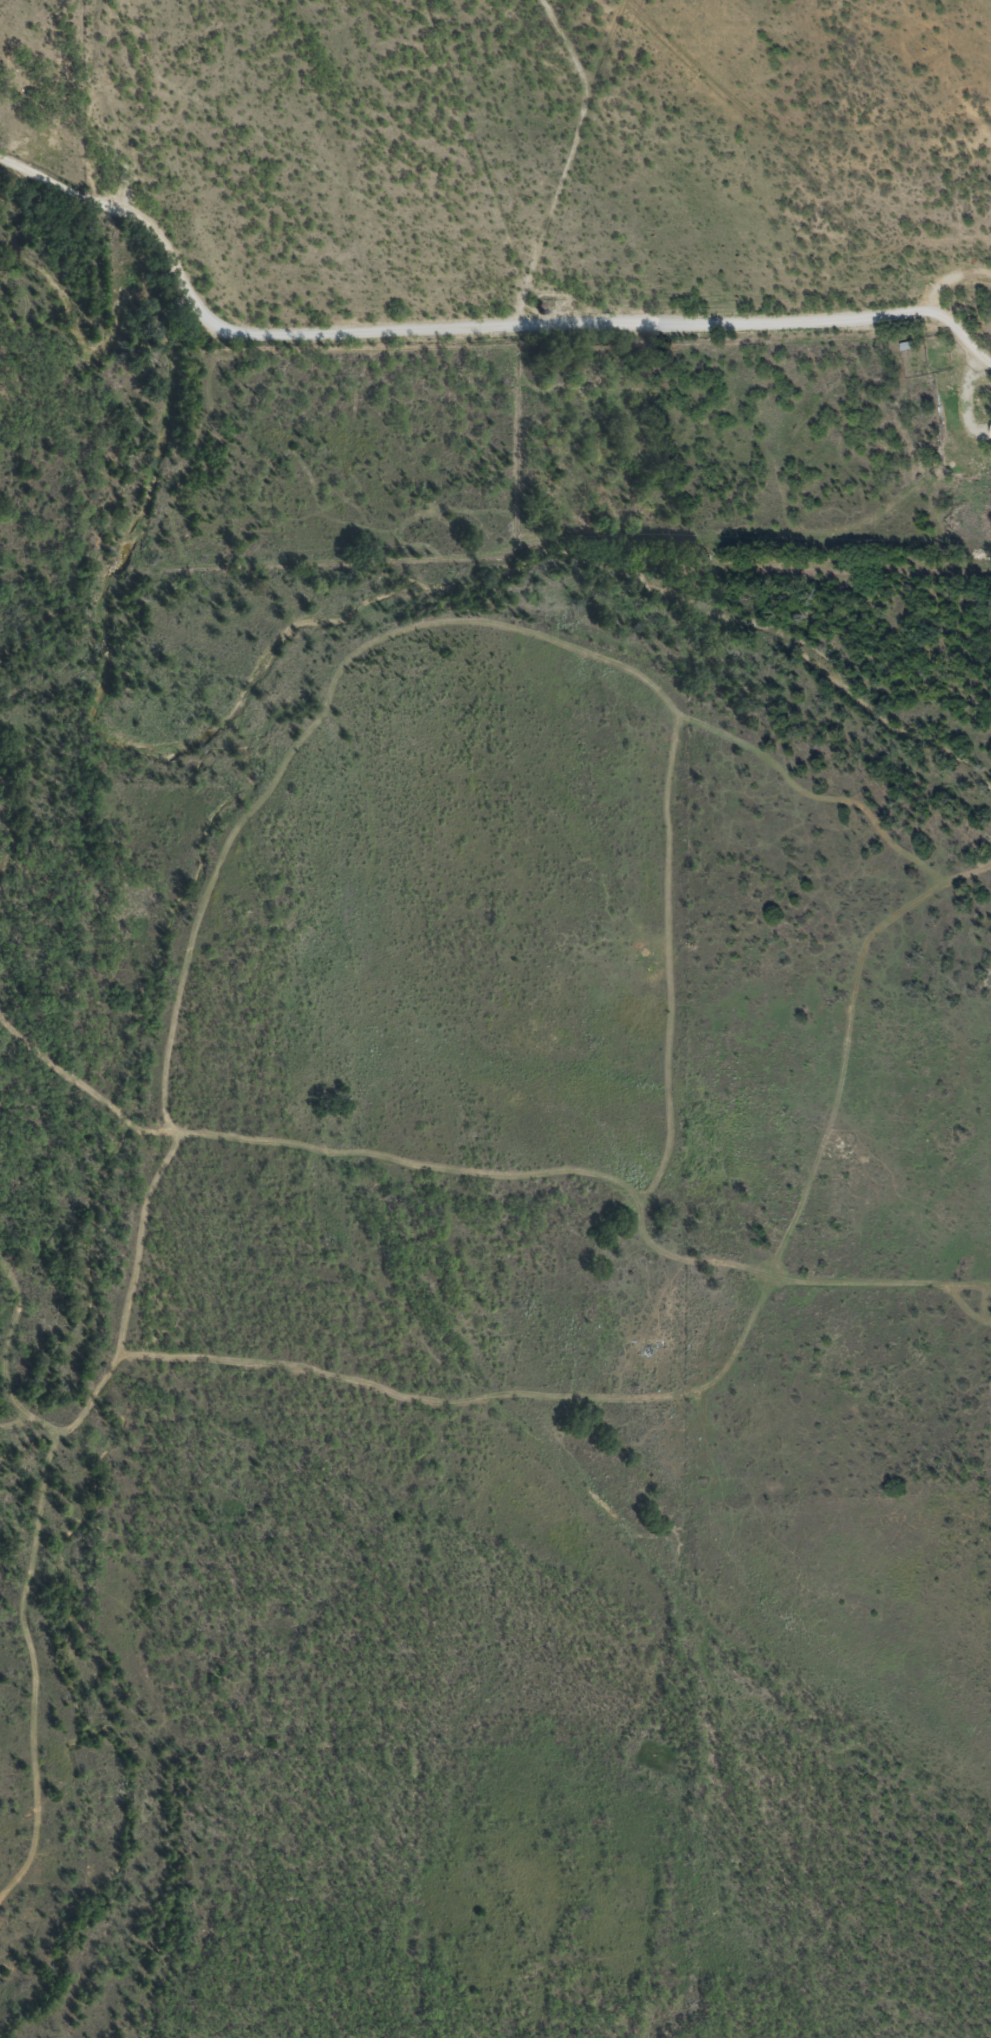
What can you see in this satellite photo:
road: (476, 345)

